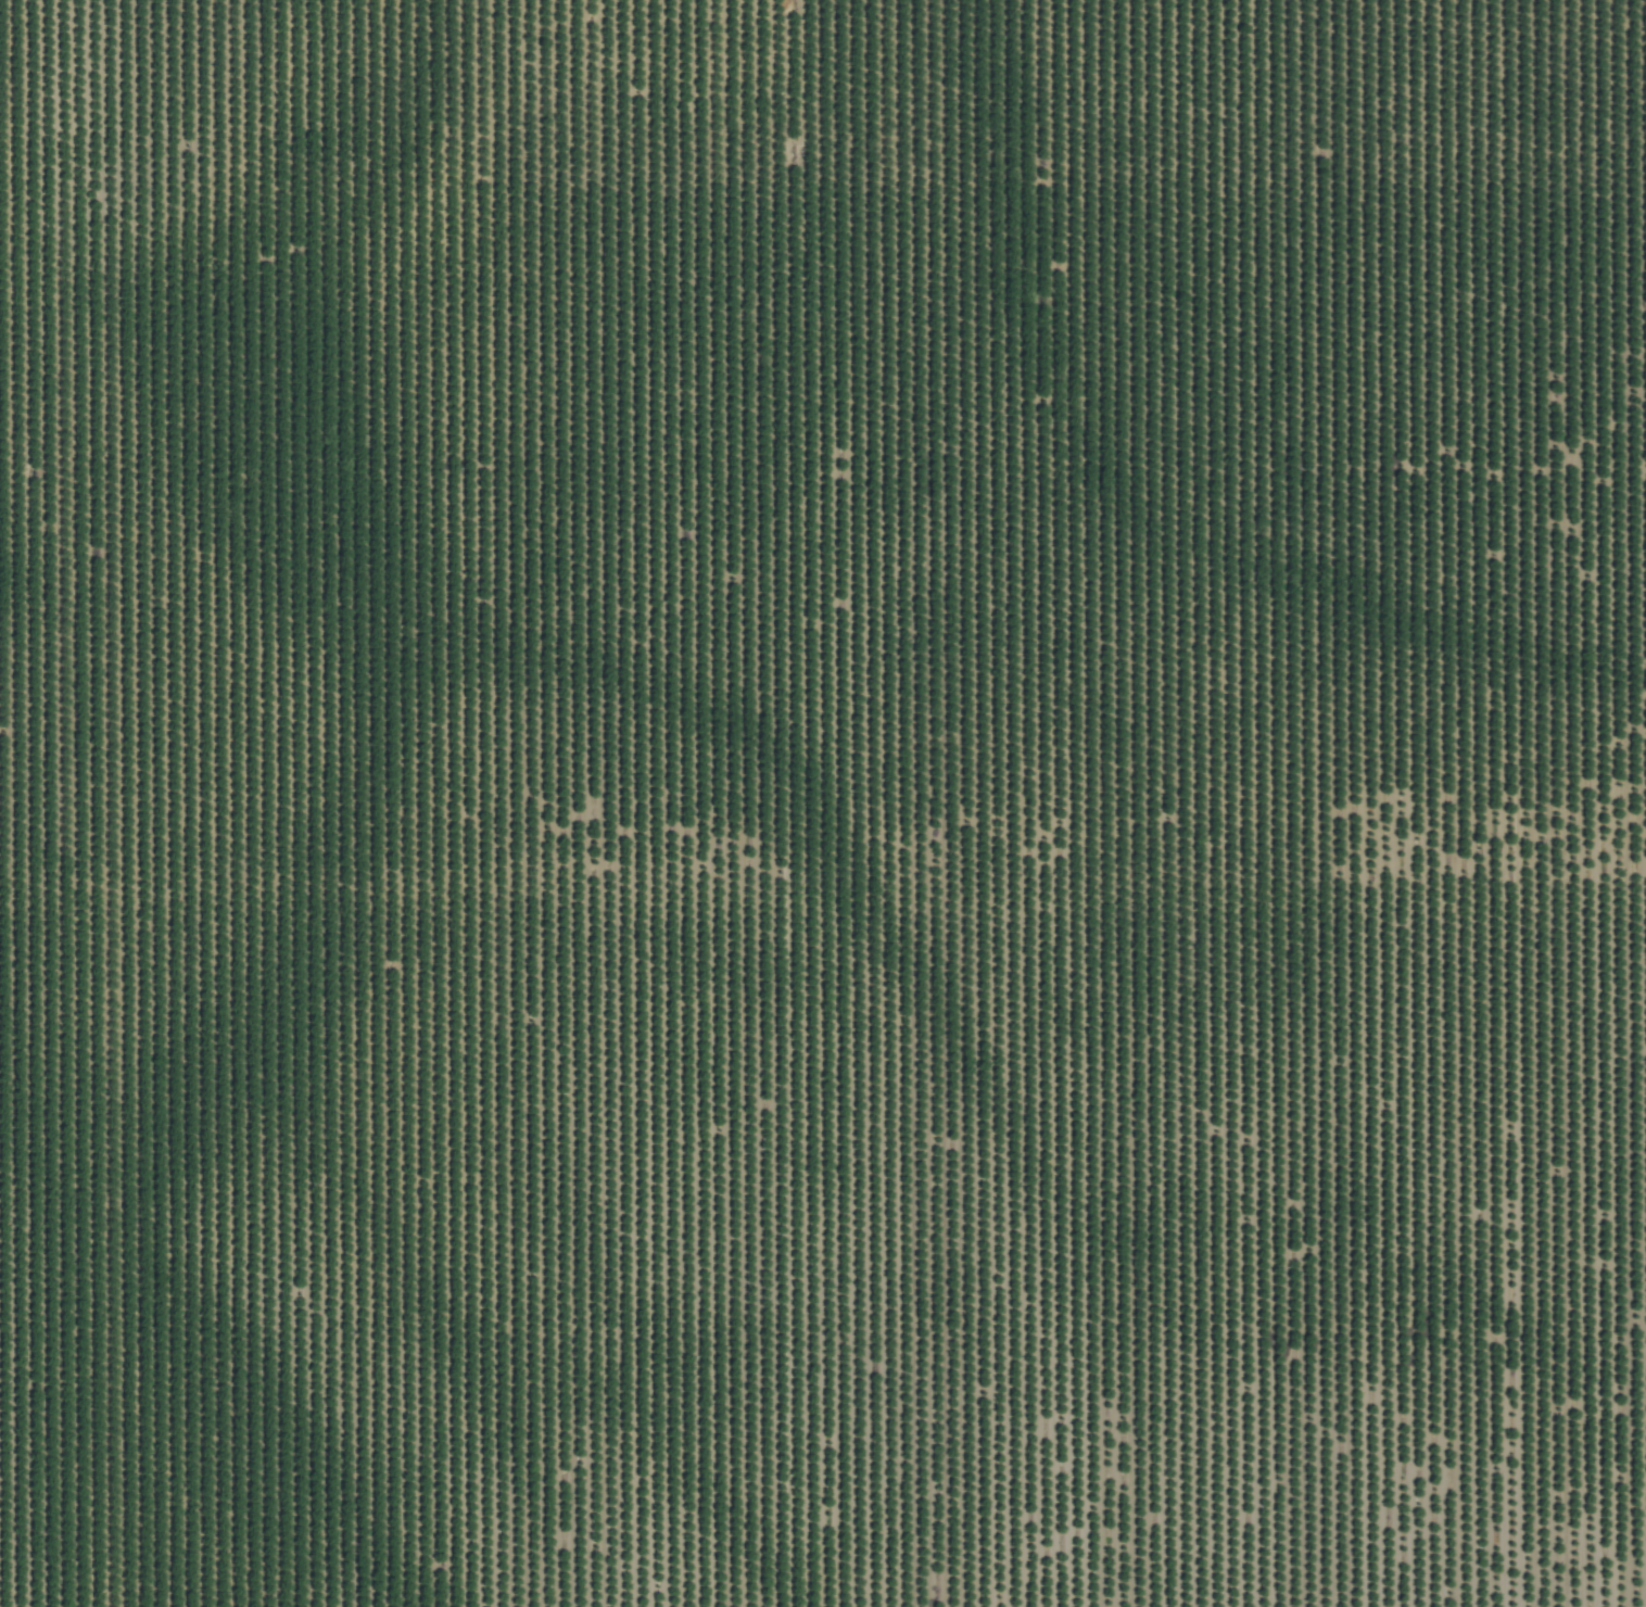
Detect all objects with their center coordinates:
road: (822, 141)
road: (823, 889)

